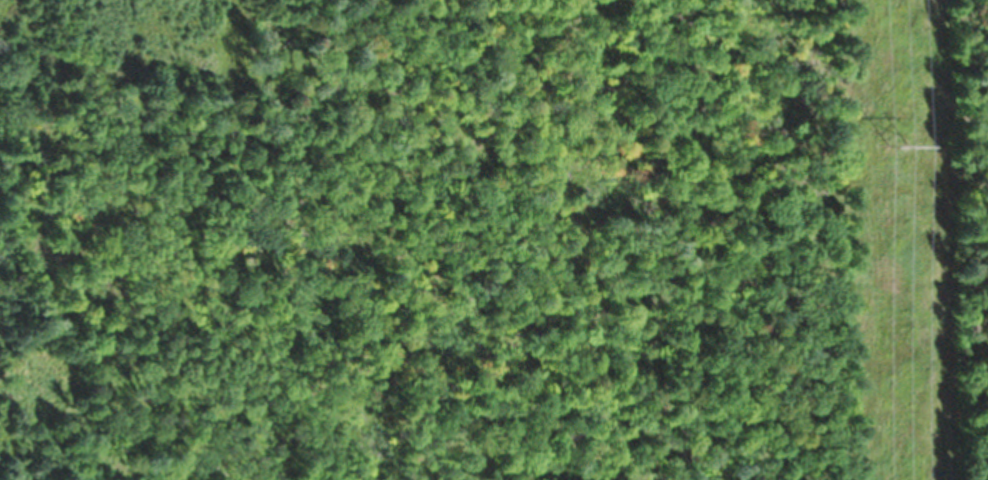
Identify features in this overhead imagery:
power tower: (895, 147)

